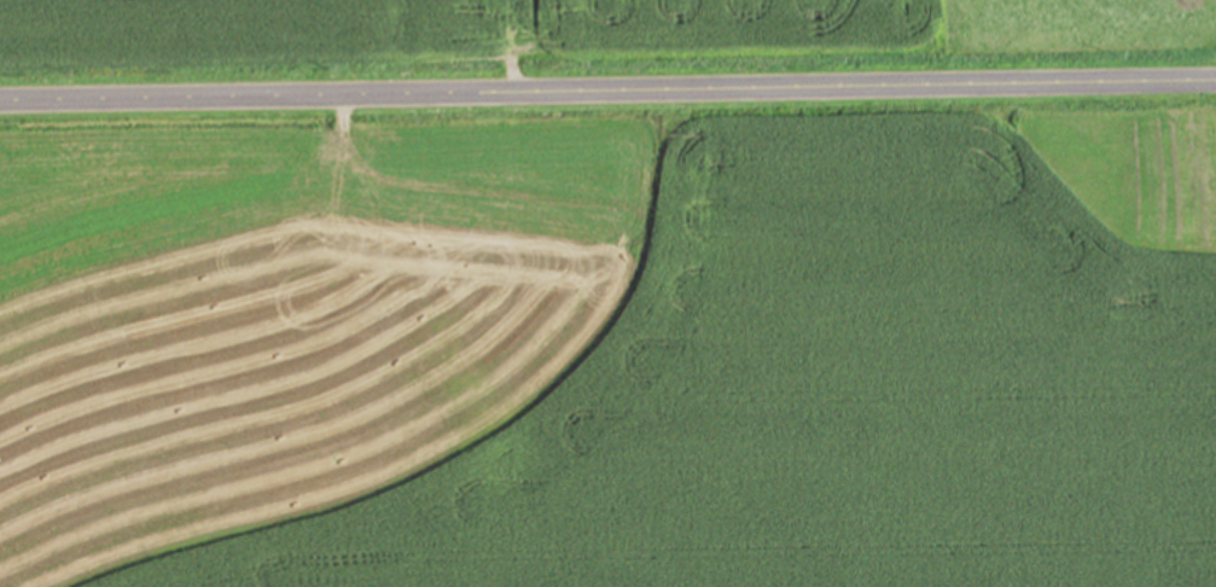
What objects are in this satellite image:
road: (607, 88)

